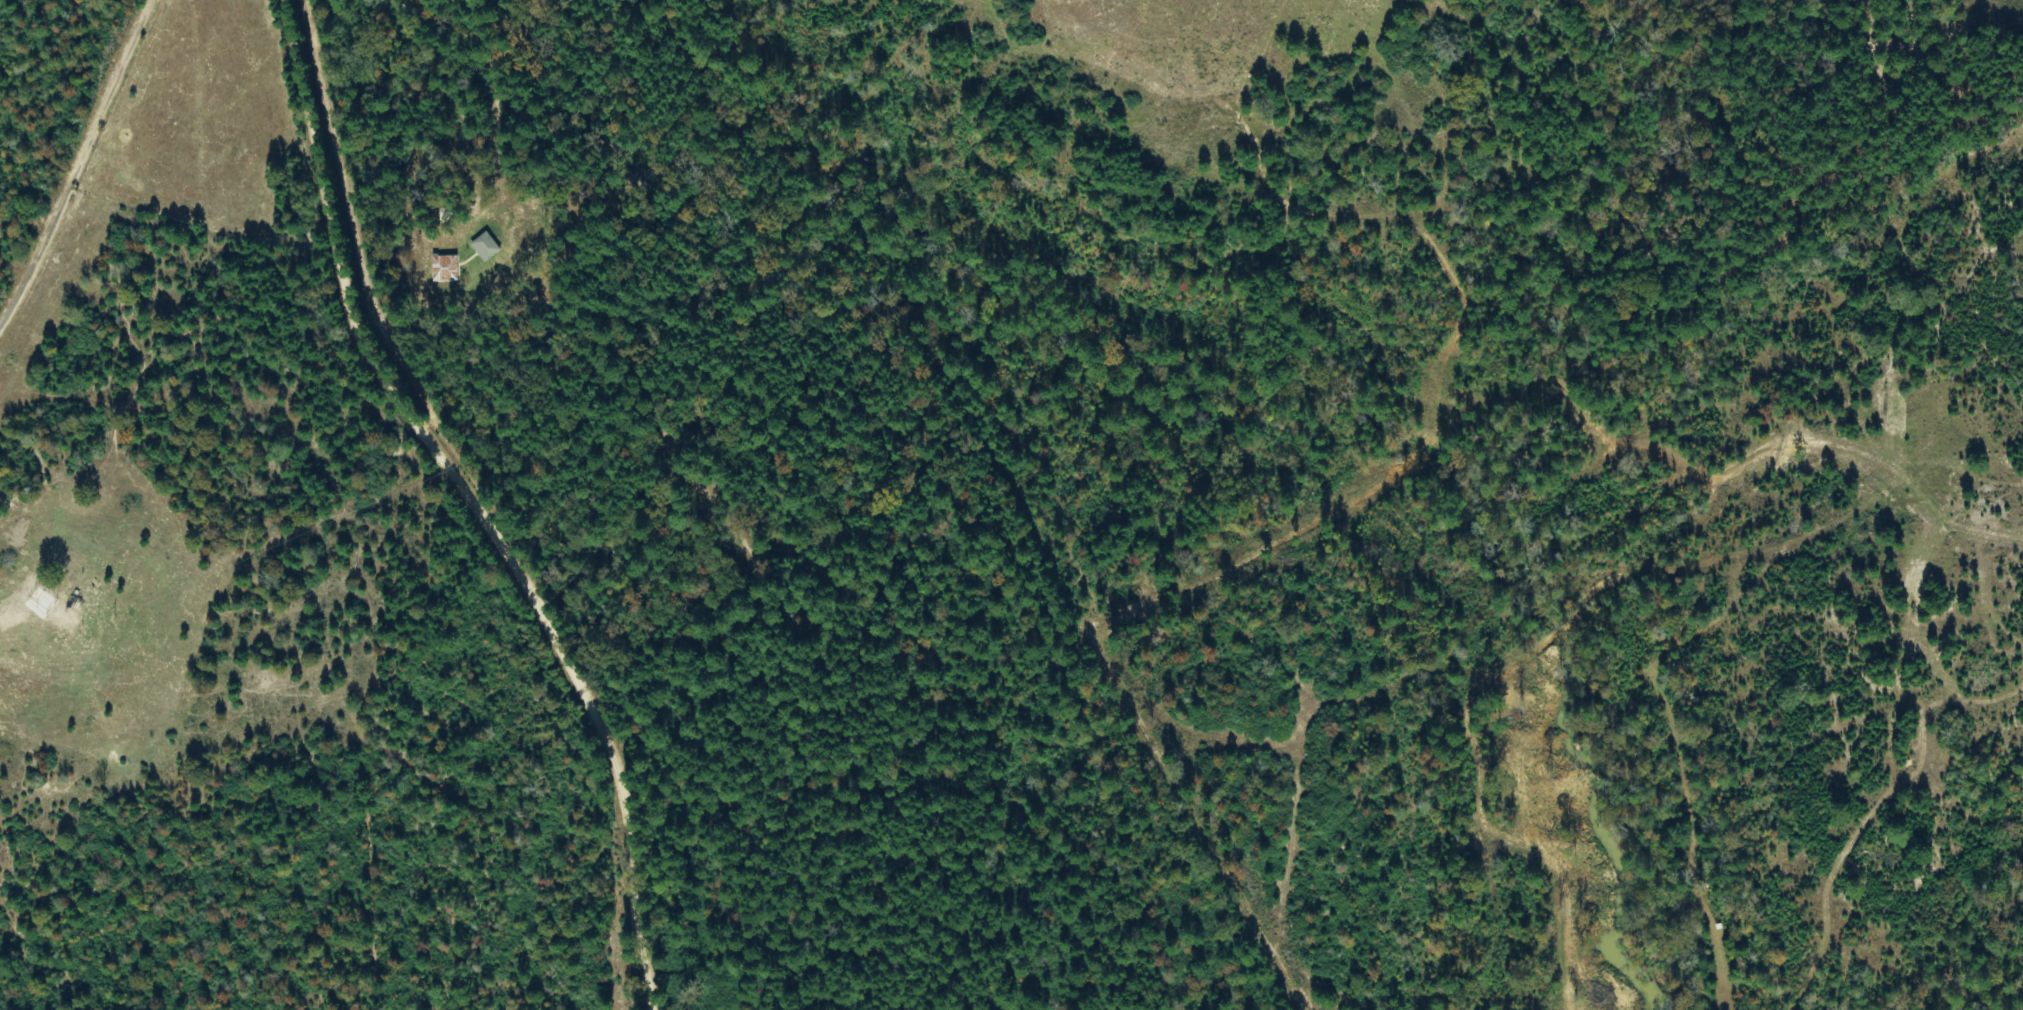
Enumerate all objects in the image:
road: (154, 19)
road: (75, 178)
building: (485, 246)
building: (445, 268)
road: (456, 466)

